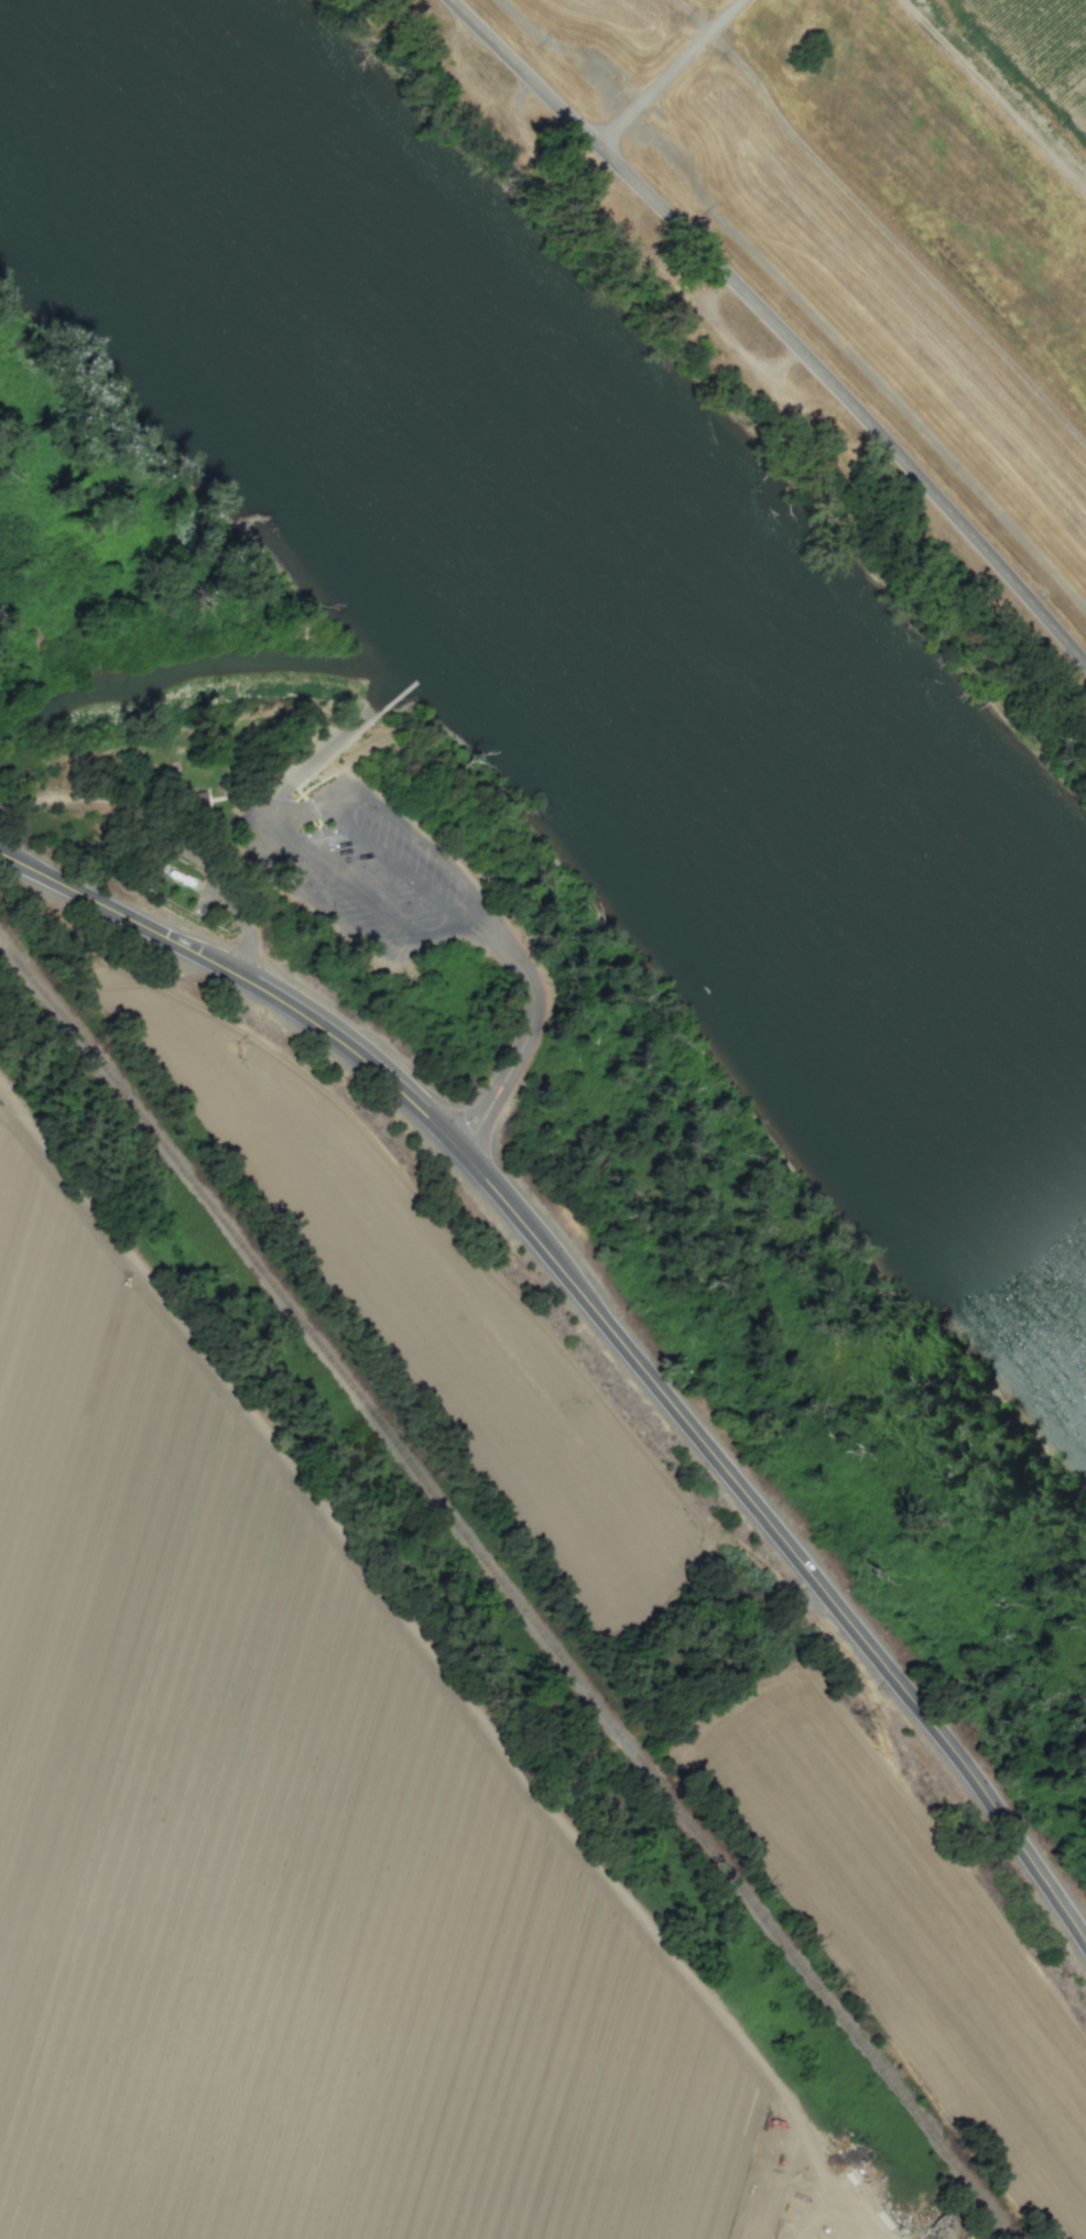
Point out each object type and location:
road: (720, 21)
road: (645, 91)
road: (774, 325)
river: (572, 556)
road: (318, 751)
road: (338, 786)
building: (200, 801)
road: (273, 807)
road: (293, 824)
road: (419, 827)
road: (390, 855)
road: (356, 882)
road: (470, 894)
road: (329, 904)
road: (426, 934)
road: (495, 939)
road: (515, 1068)
crop: (430, 1312)
road: (611, 1330)
railway: (504, 1587)
road: (443, 1666)
crop: (319, 1844)

